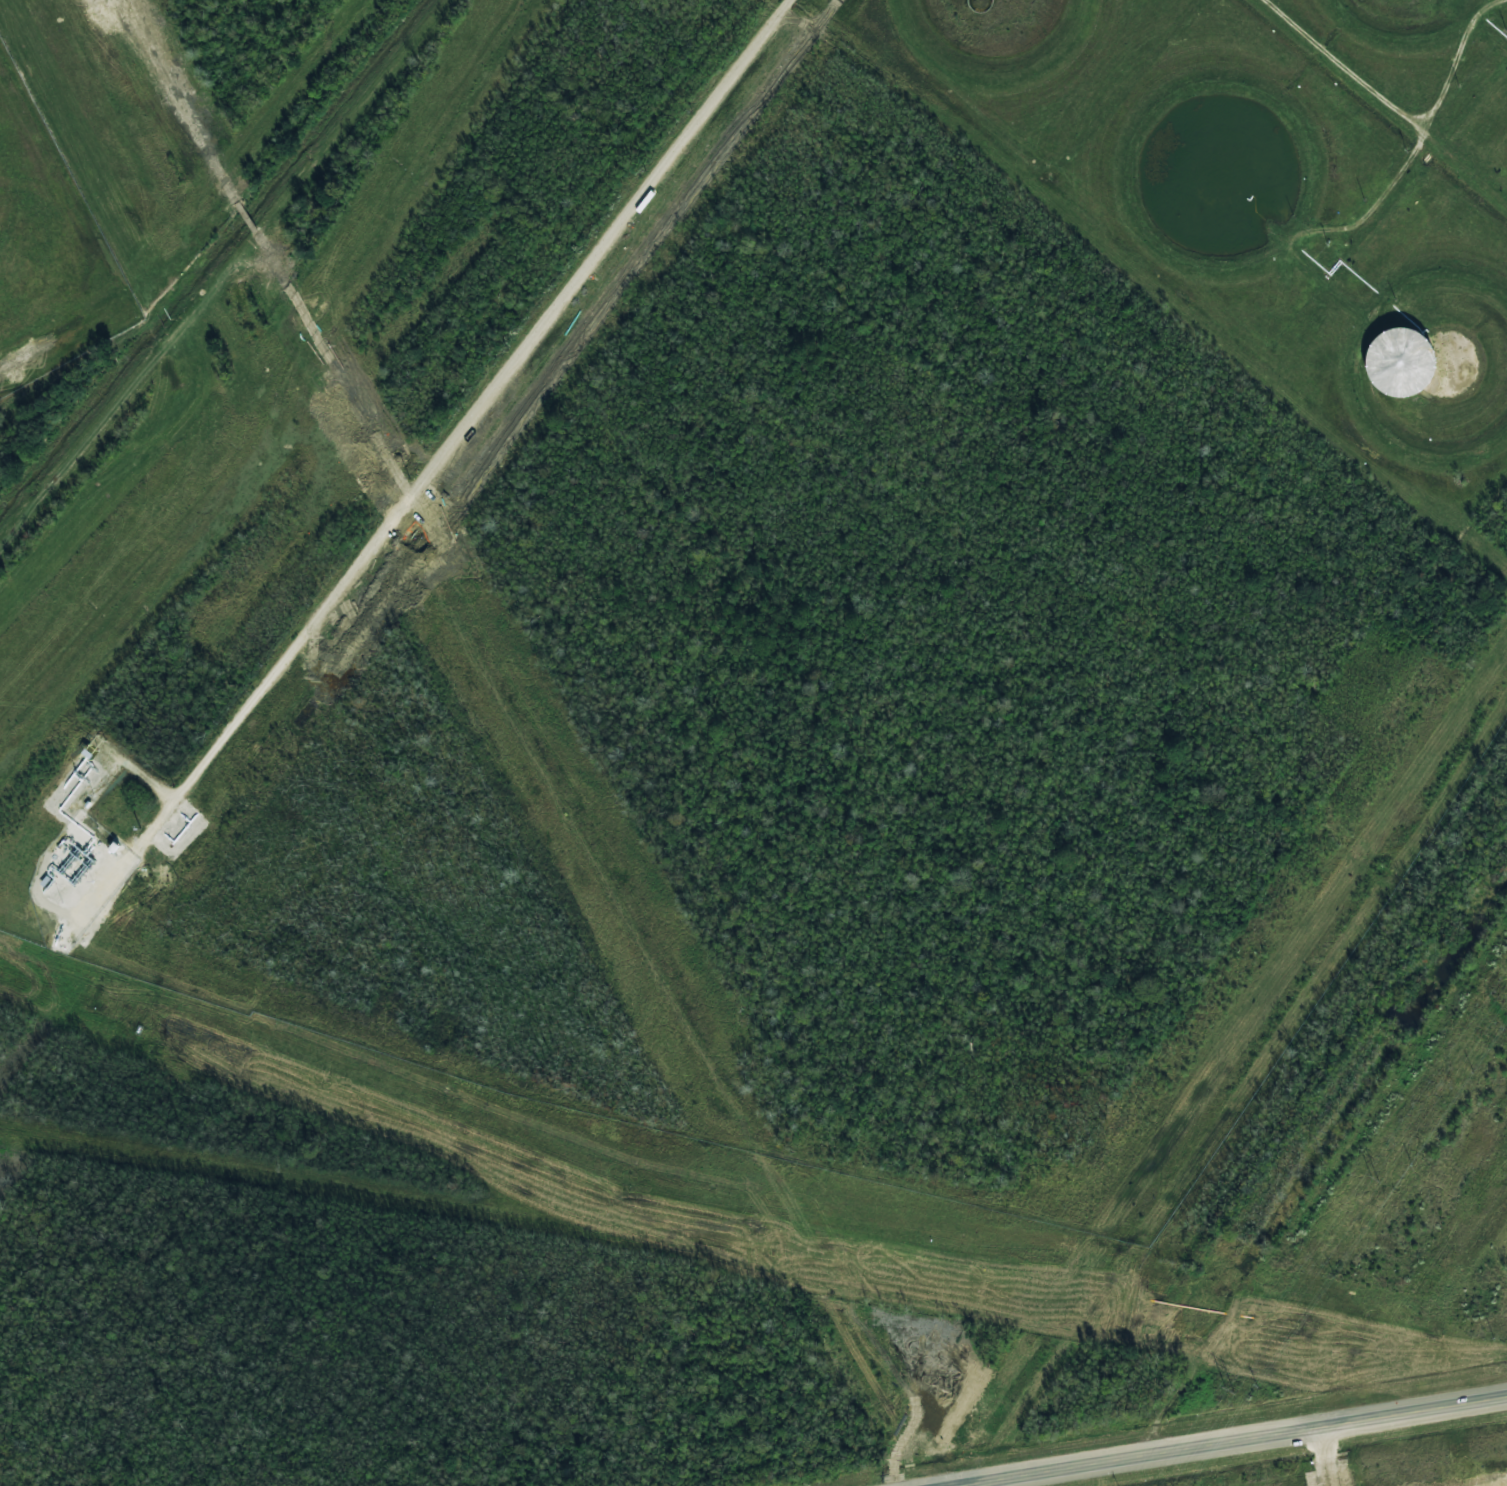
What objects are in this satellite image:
building: (1411, 11)
storage tank: (1411, 11)
road: (1397, 110)
building: (1222, 222)
storage tank: (1222, 222)
building: (1408, 382)
storage tank: (1408, 382)
power tower: (1372, 1178)
power tower: (1227, 1388)
road: (1232, 1442)

